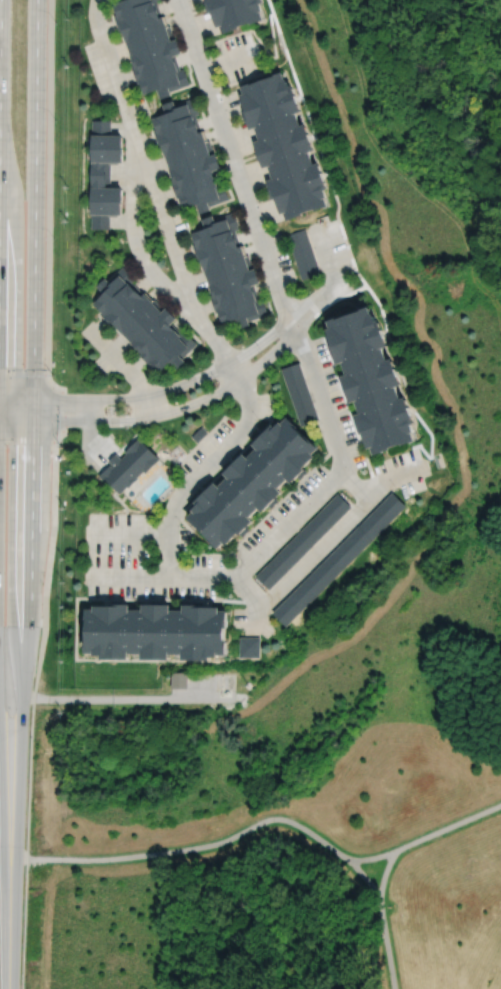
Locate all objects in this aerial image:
road: (0, 6)
building: (233, 12)
building: (149, 46)
road: (230, 58)
building: (283, 146)
building: (188, 156)
road: (232, 161)
building: (104, 174)
road: (155, 194)
road: (49, 197)
road: (135, 239)
street lamp: (349, 243)
building: (302, 253)
road: (327, 255)
building: (228, 271)
road: (312, 302)
building: (142, 321)
road: (126, 367)
road: (23, 368)
building: (370, 379)
road: (182, 383)
building: (299, 393)
road: (16, 396)
traffic signals: (33, 397)
road: (47, 398)
road: (177, 408)
road: (61, 411)
road: (16, 421)
traffic signals: (33, 421)
road: (89, 422)
road: (33, 429)
building: (198, 434)
road: (28, 440)
building: (129, 465)
road: (201, 473)
road: (393, 477)
building: (252, 482)
road: (354, 484)
street lamp: (395, 489)
street lamp: (97, 511)
road: (291, 520)
street lamp: (181, 524)
road: (128, 534)
building: (302, 540)
road: (314, 555)
building: (339, 558)
road: (49, 560)
road: (245, 593)
building: (156, 630)
building: (249, 646)
building: (178, 679)
road: (128, 698)
road: (28, 773)
road: (5, 777)
road: (451, 827)
road: (197, 848)
road: (13, 858)
road: (376, 858)
road: (385, 871)
road: (365, 878)
road: (9, 923)
road: (23, 923)
road: (385, 943)

